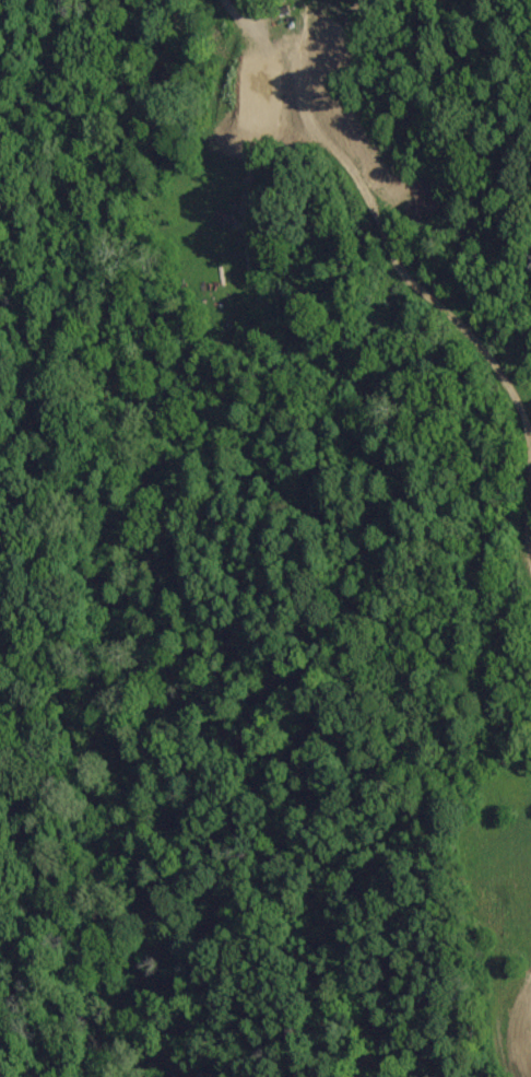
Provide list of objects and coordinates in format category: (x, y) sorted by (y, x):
road: (261, 47)

